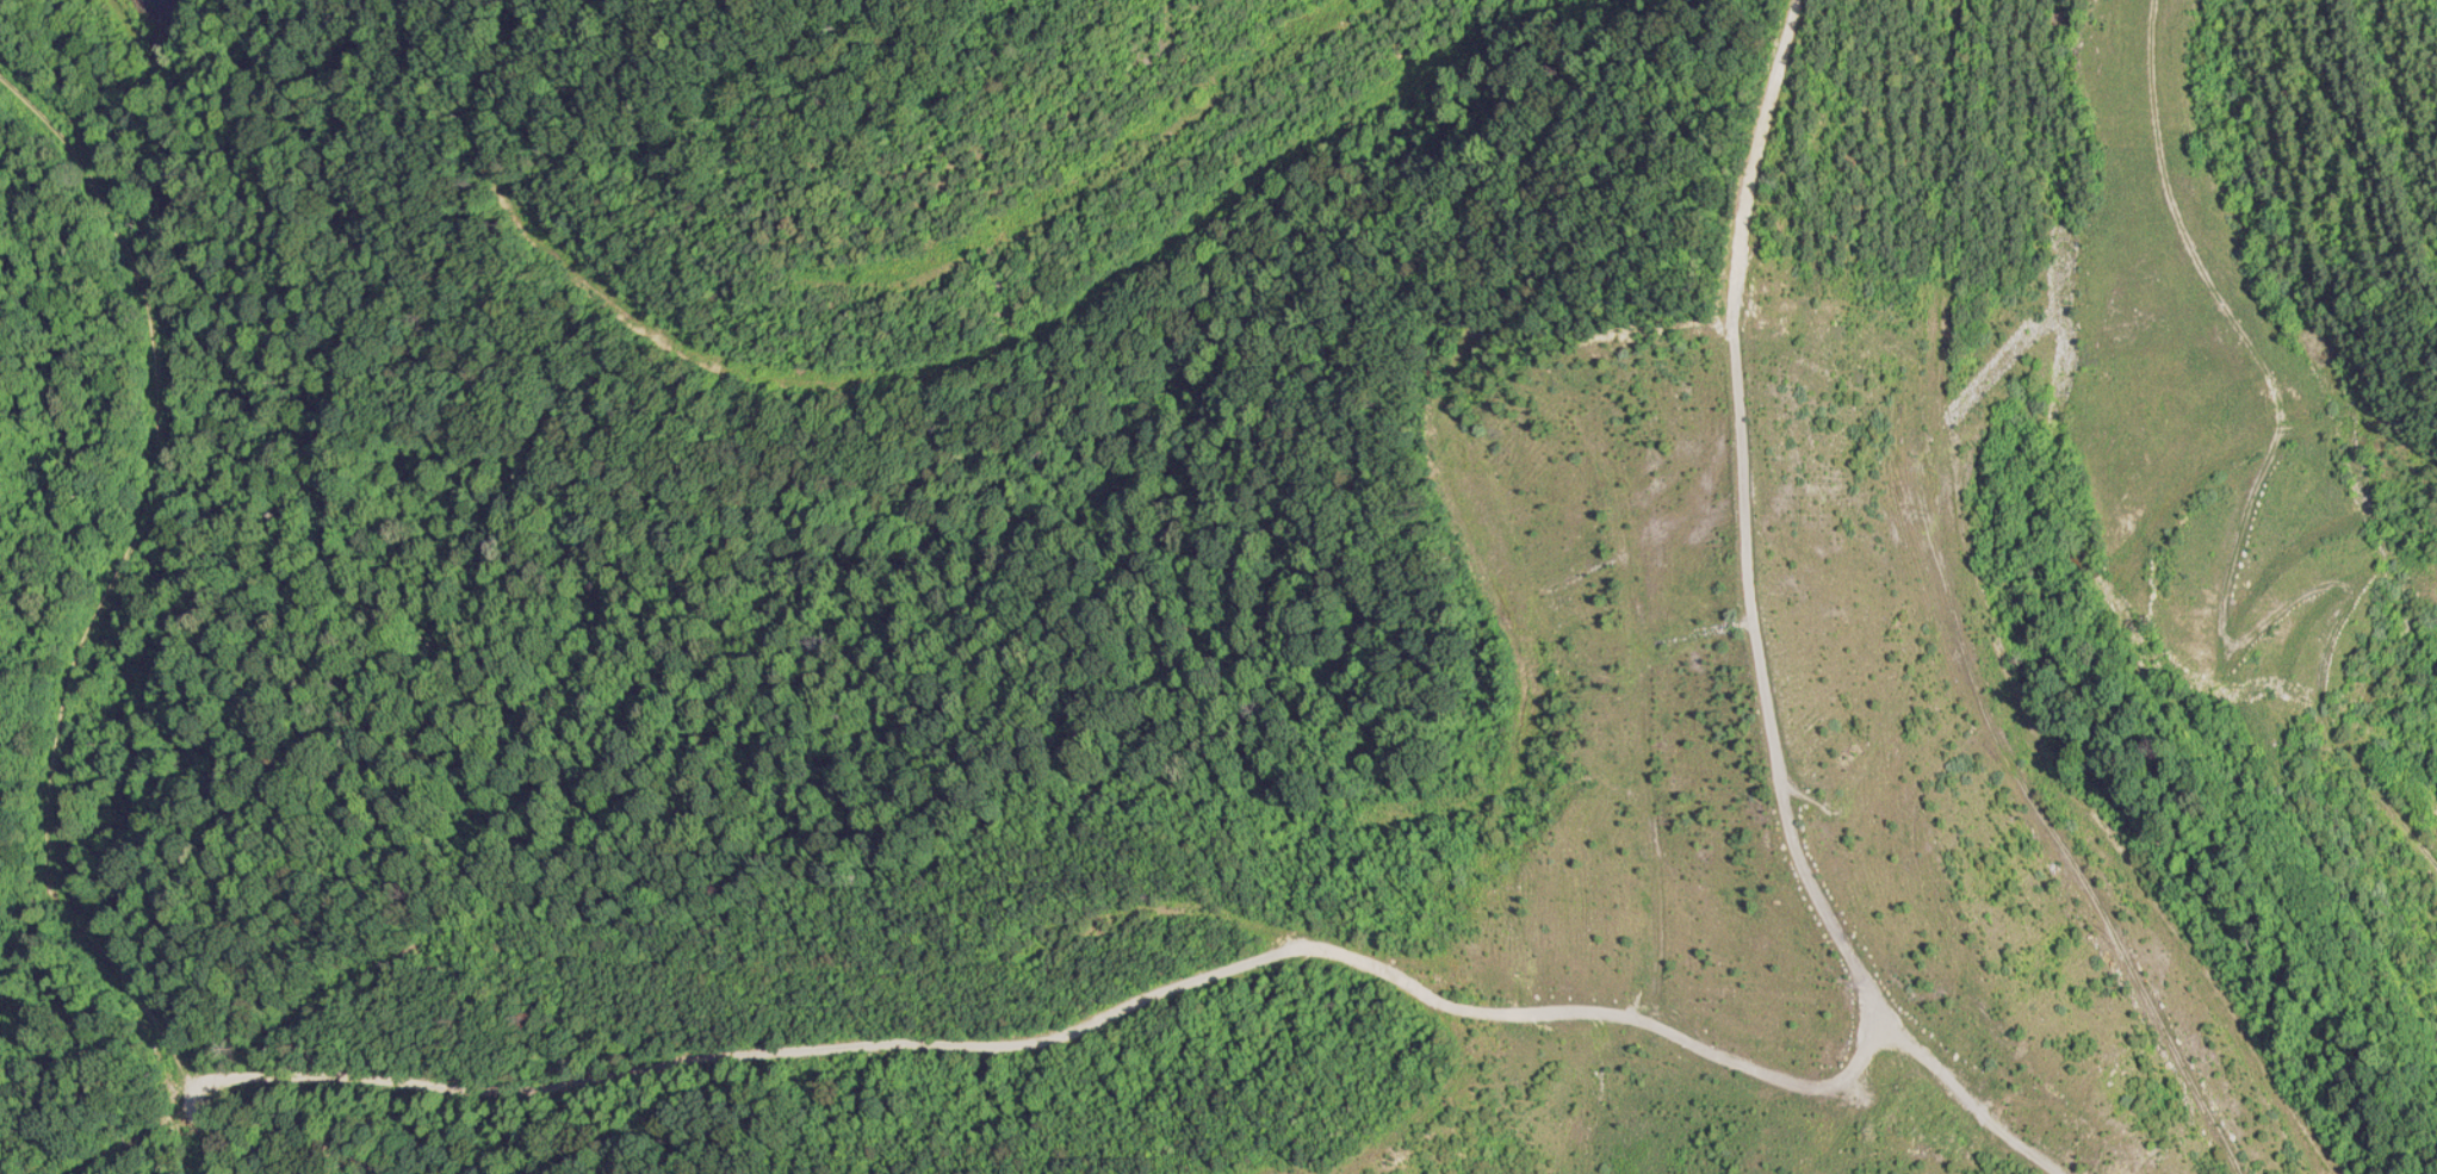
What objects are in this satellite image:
quarry: (1218, 586)

